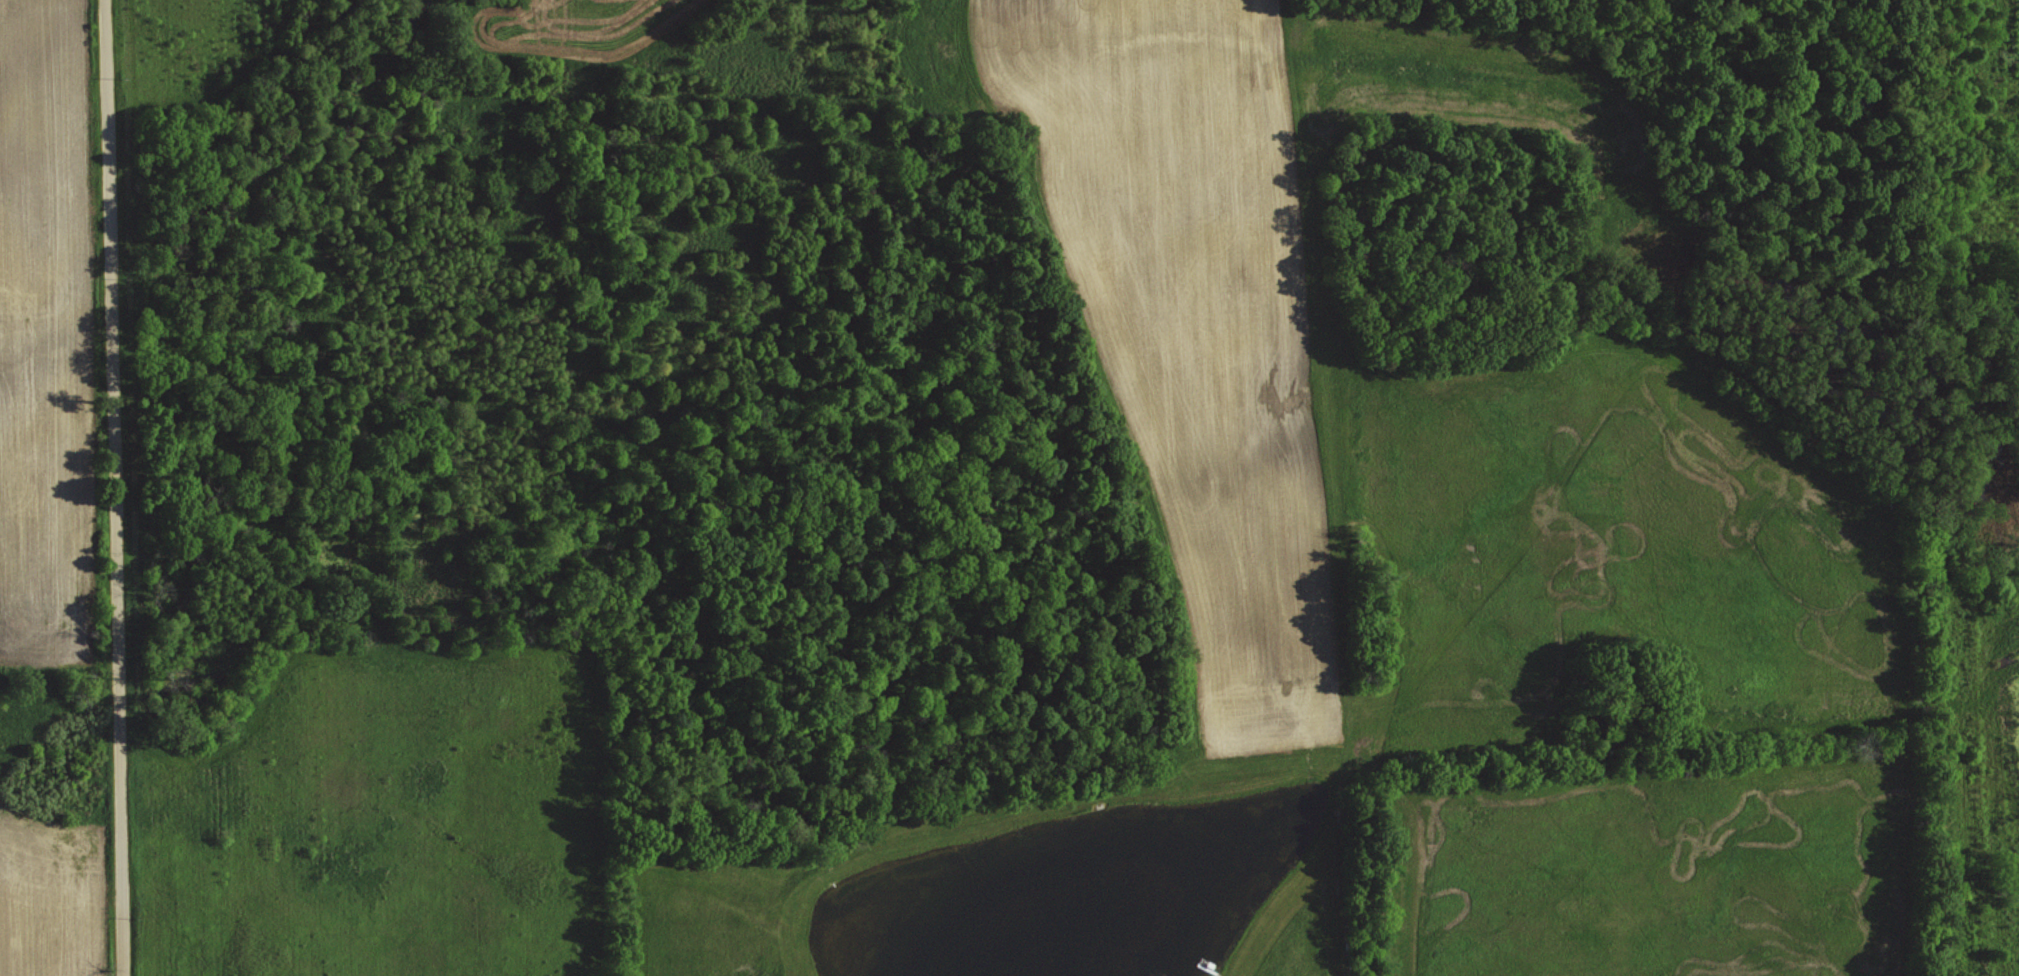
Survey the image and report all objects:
road: (114, 488)

